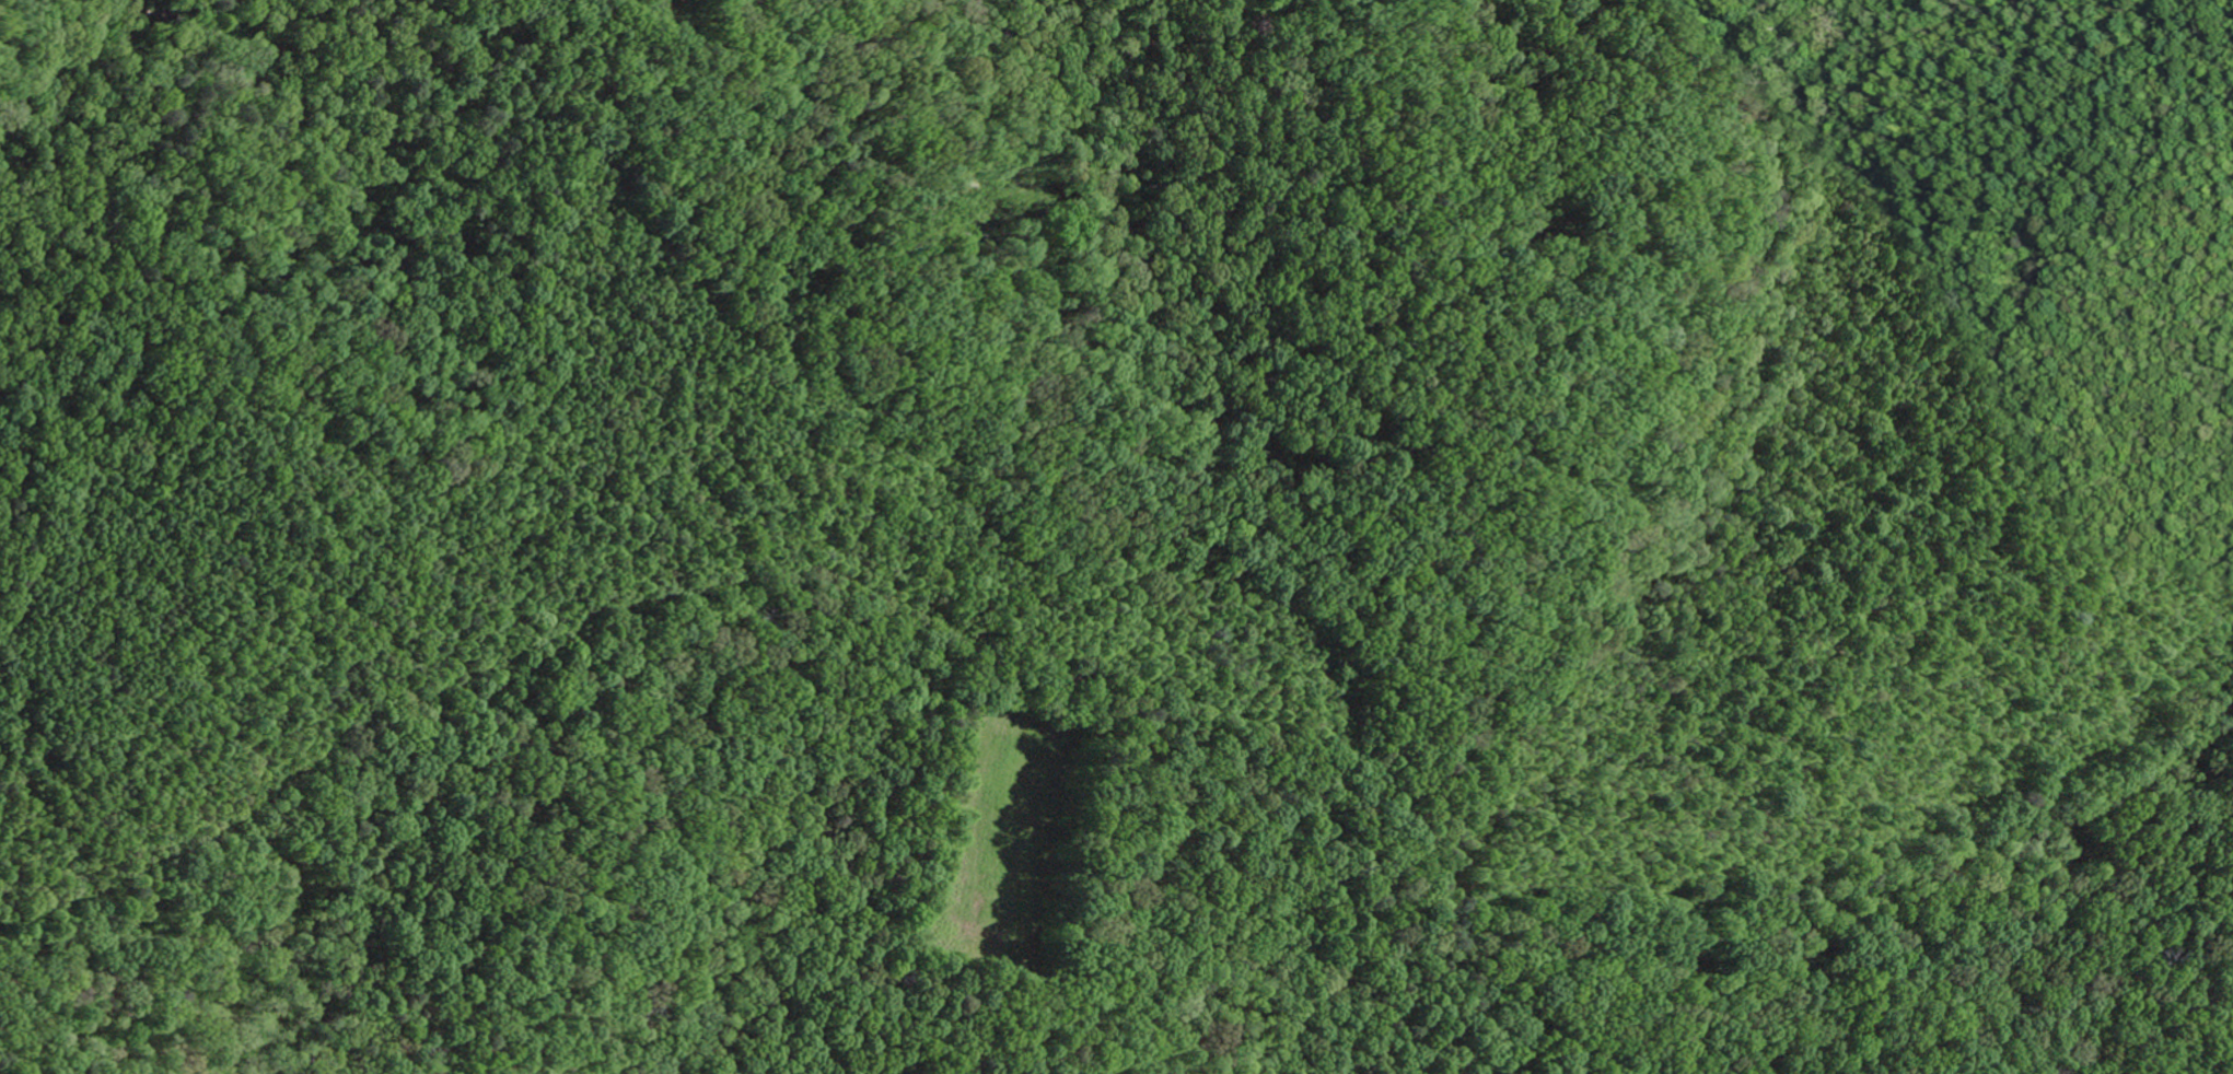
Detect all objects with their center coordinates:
road: (691, 786)

